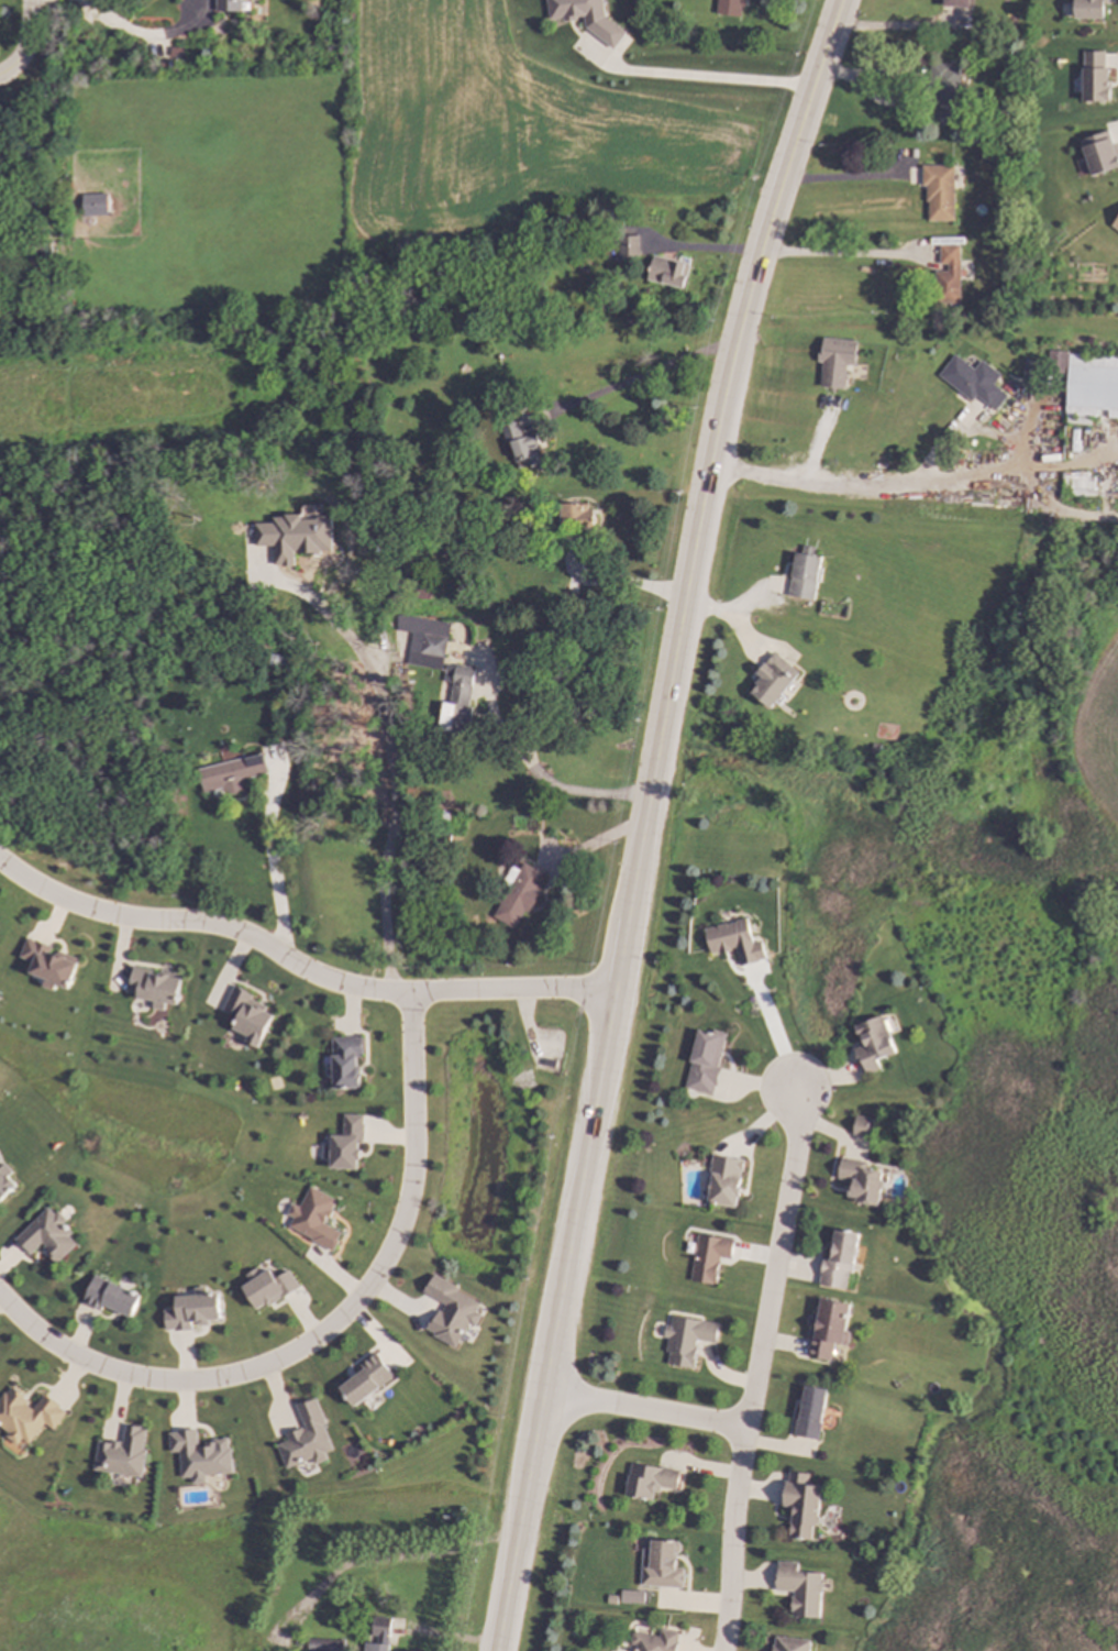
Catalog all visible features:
building: (955, 2)
building: (226, 5)
building: (728, 8)
building: (1092, 10)
building: (586, 18)
road: (898, 24)
road: (125, 31)
building: (1012, 32)
road: (25, 42)
road: (715, 81)
building: (1093, 82)
building: (943, 93)
crop: (501, 128)
building: (1095, 152)
road: (844, 175)
building: (939, 190)
building: (95, 205)
building: (1117, 222)
building: (629, 246)
road: (700, 247)
road: (833, 255)
building: (667, 272)
building: (947, 276)
building: (1060, 360)
building: (835, 362)
building: (1032, 367)
road: (651, 373)
building: (976, 379)
building: (1093, 384)
building: (521, 447)
building: (1078, 478)
building: (1094, 481)
road: (914, 482)
building: (577, 517)
building: (296, 536)
building: (806, 573)
road: (595, 585)
building: (424, 641)
building: (773, 681)
building: (457, 700)
road: (502, 736)
crop: (1098, 741)
road: (387, 769)
building: (230, 774)
road: (645, 819)
road: (274, 871)
building: (520, 895)
building: (734, 942)
building: (47, 965)
road: (298, 966)
building: (154, 988)
building: (247, 1016)
road: (776, 1038)
building: (874, 1043)
building: (705, 1061)
building: (346, 1063)
building: (861, 1126)
building: (346, 1144)
building: (724, 1181)
building: (861, 1181)
building: (5, 1182)
building: (314, 1219)
building: (48, 1236)
building: (708, 1258)
building: (838, 1261)
building: (268, 1287)
building: (111, 1297)
building: (452, 1312)
building: (828, 1328)
road: (325, 1330)
building: (686, 1340)
road: (755, 1375)
building: (366, 1380)
road: (645, 1412)
building: (810, 1412)
building: (27, 1416)
building: (307, 1438)
building: (123, 1453)
building: (200, 1456)
building: (650, 1481)
building: (800, 1505)
road: (386, 1559)
building: (661, 1565)
building: (800, 1589)
building: (631, 1597)
building: (379, 1636)
building: (653, 1641)
building: (325, 1644)
building: (790, 1644)

